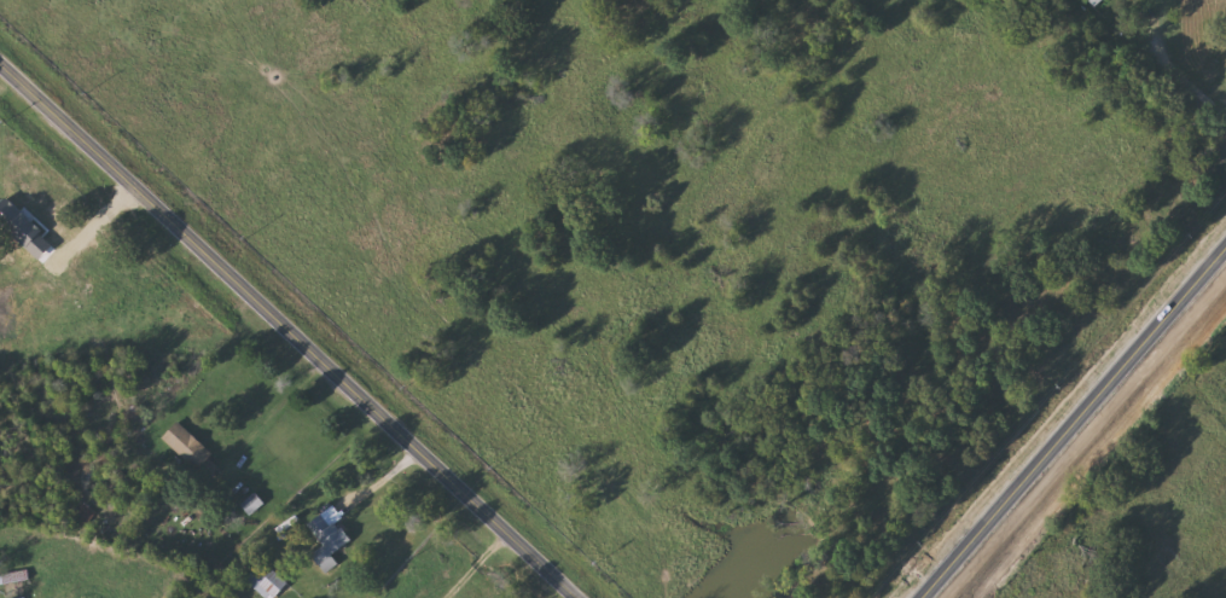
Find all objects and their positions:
building: (1098, 1)
road: (1203, 71)
road: (92, 223)
road: (292, 331)
road: (1075, 425)
building: (192, 449)
road: (387, 474)
building: (254, 501)
building: (330, 533)
road: (476, 563)
building: (14, 575)
building: (267, 580)

